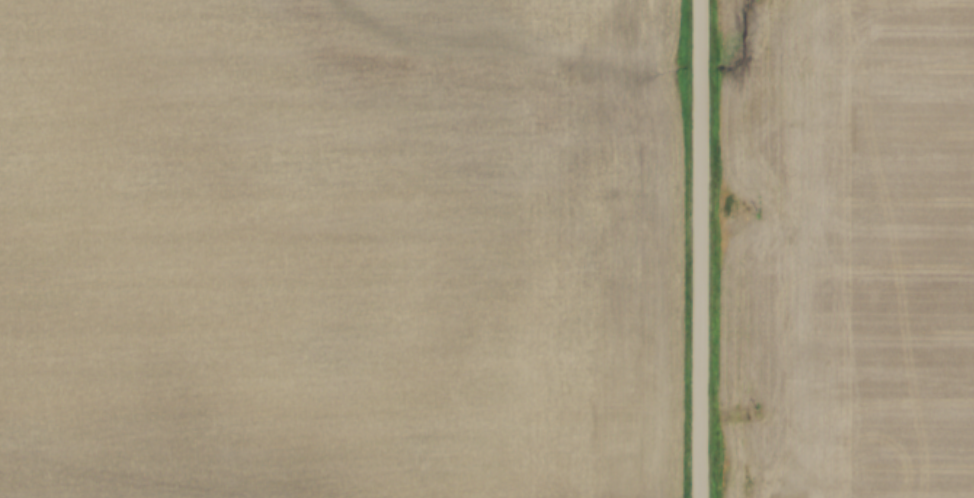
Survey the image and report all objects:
road: (705, 249)

